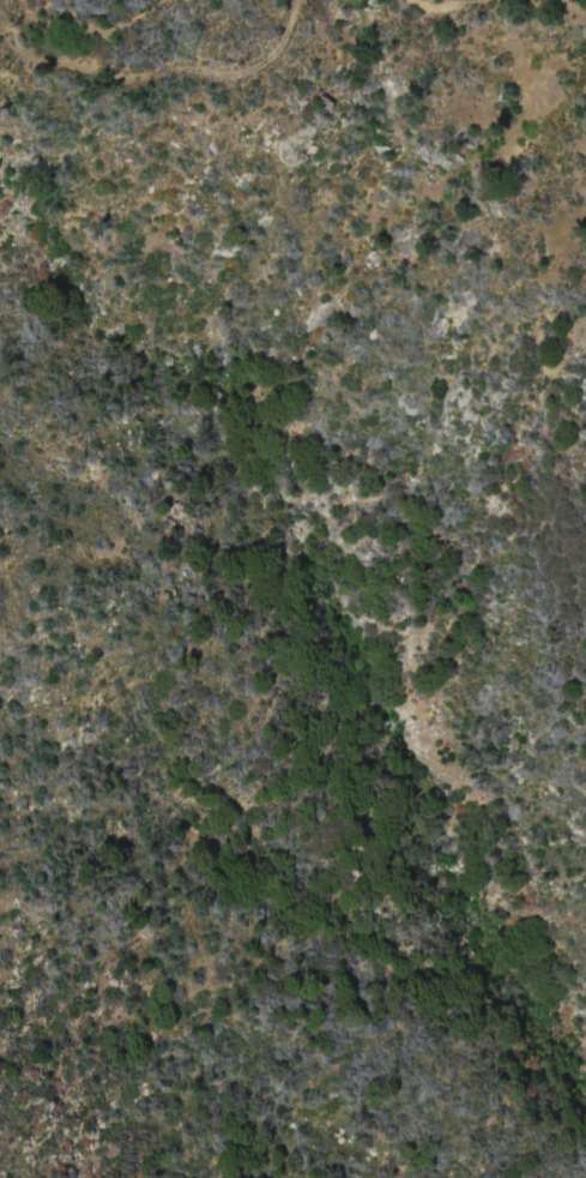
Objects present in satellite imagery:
road: (188, 40)

